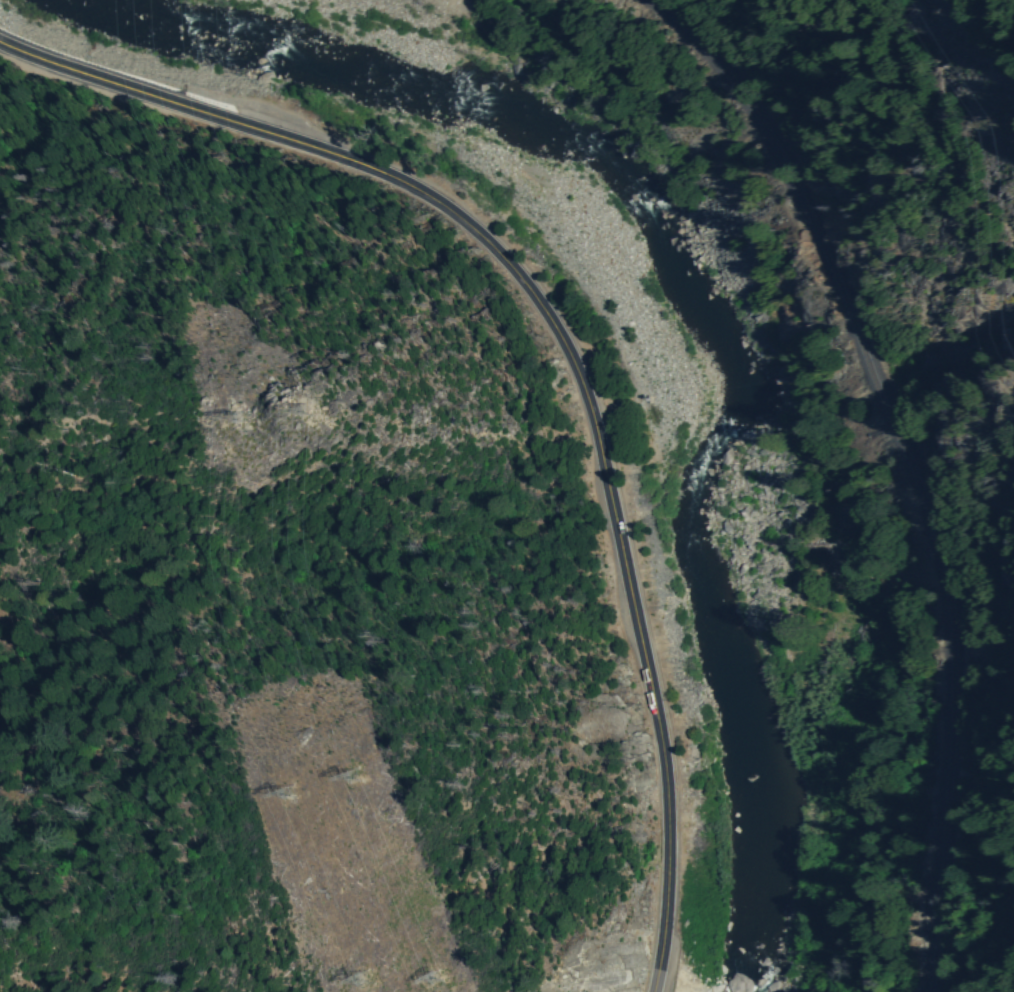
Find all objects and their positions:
river: (366, 66)
power tower: (989, 125)
river: (692, 294)
road: (565, 345)
railway: (911, 464)
river: (704, 468)
river: (757, 758)
power tower: (354, 773)
power tower: (290, 793)
power tower: (435, 977)
power tower: (366, 978)

